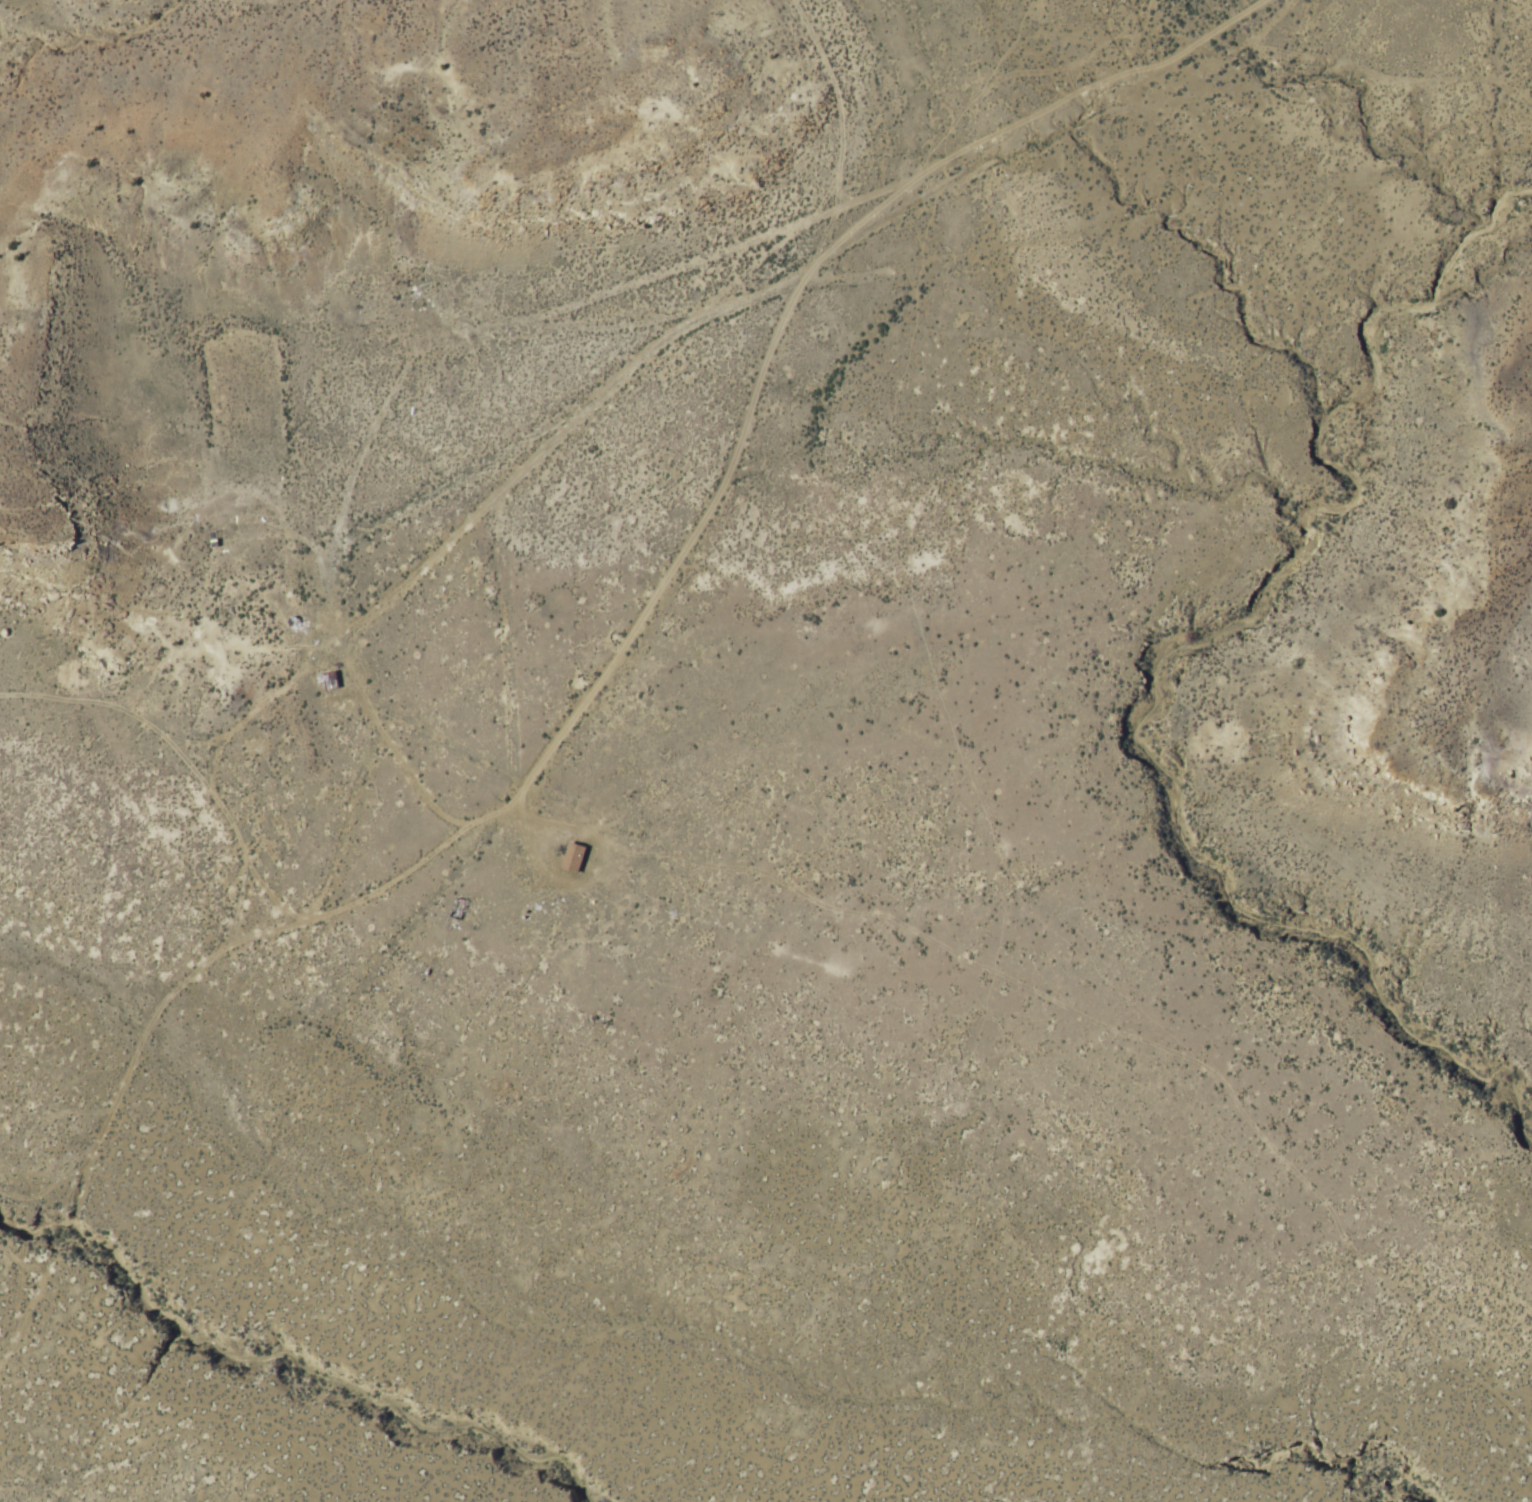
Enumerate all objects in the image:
road: (840, 132)
road: (613, 385)
building: (329, 680)
building: (573, 857)
road: (281, 1468)

